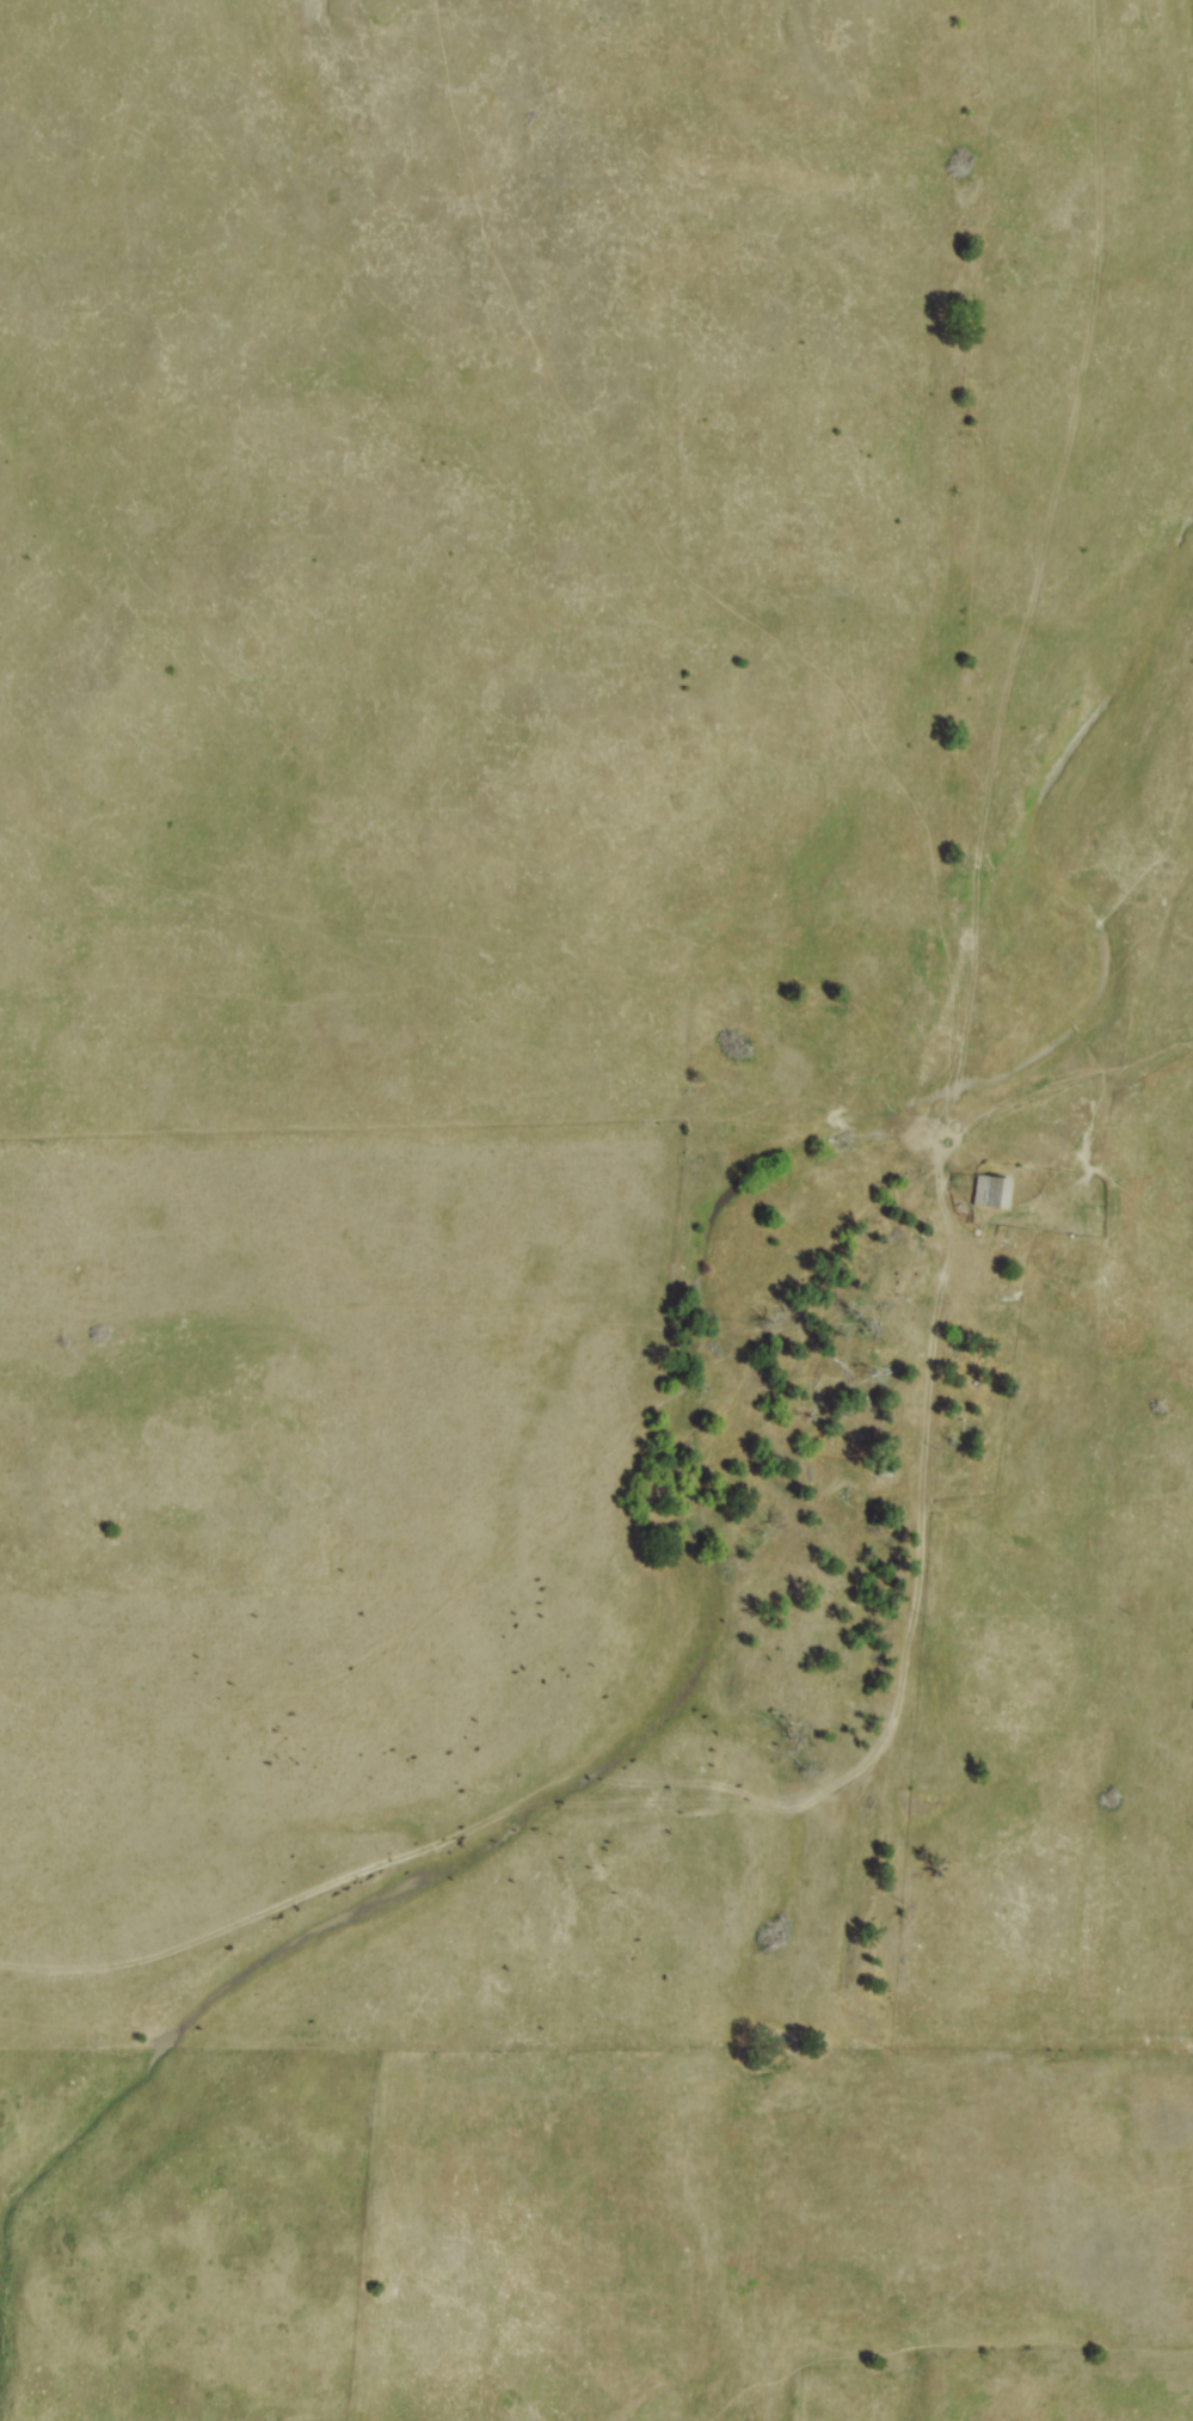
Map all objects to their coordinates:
building: (989, 1194)

